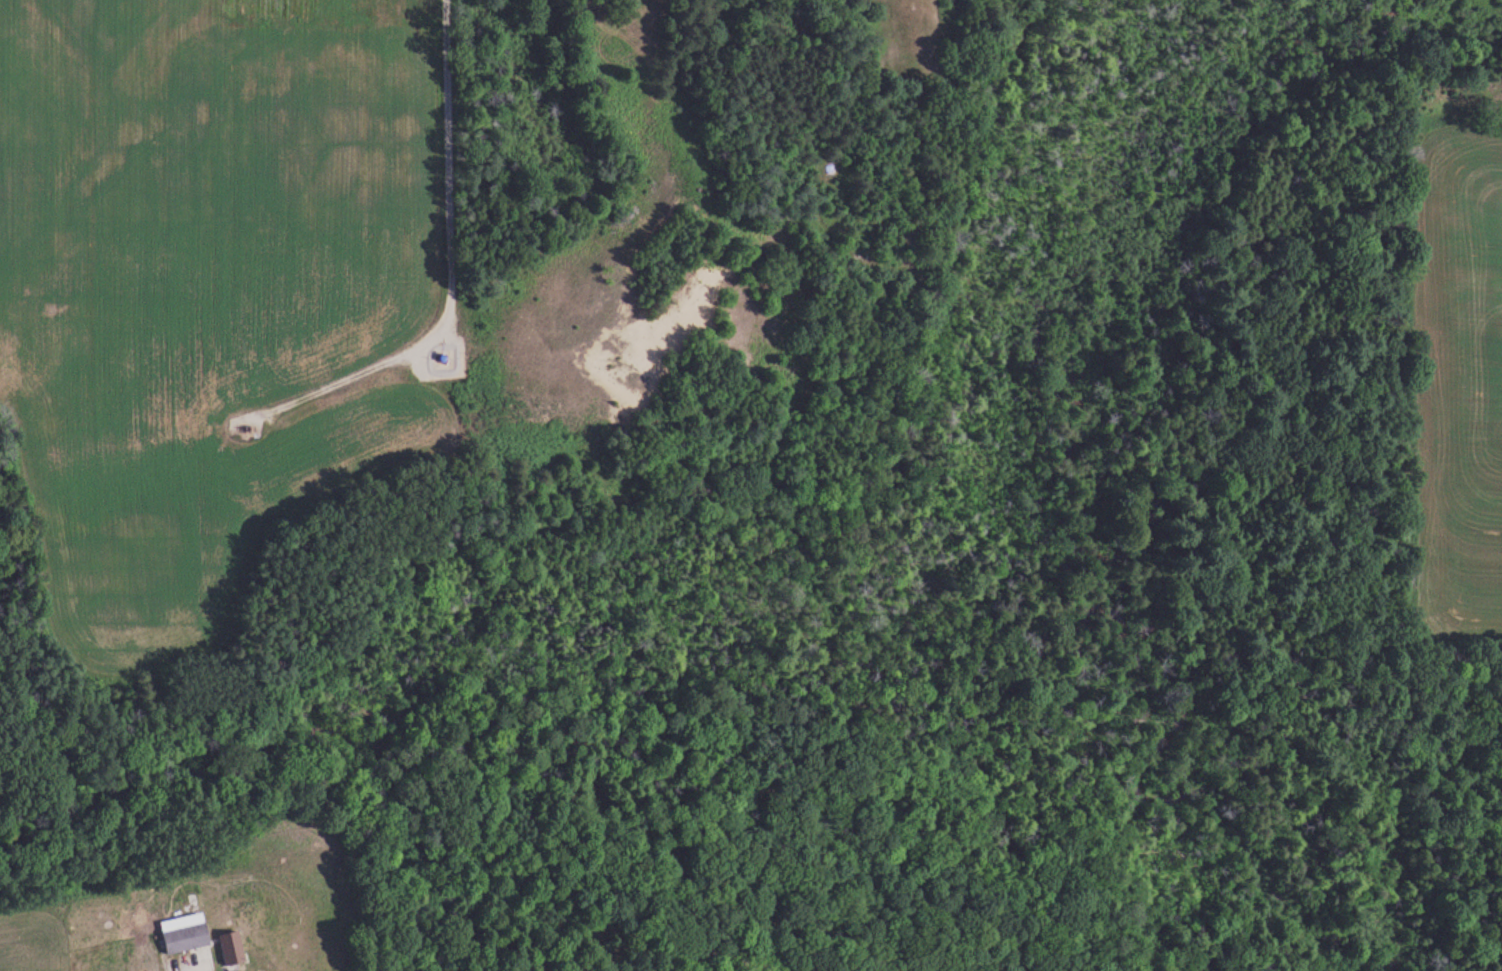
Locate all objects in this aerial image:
road: (461, 268)
petroleum well: (238, 421)
building: (187, 938)
building: (233, 949)

